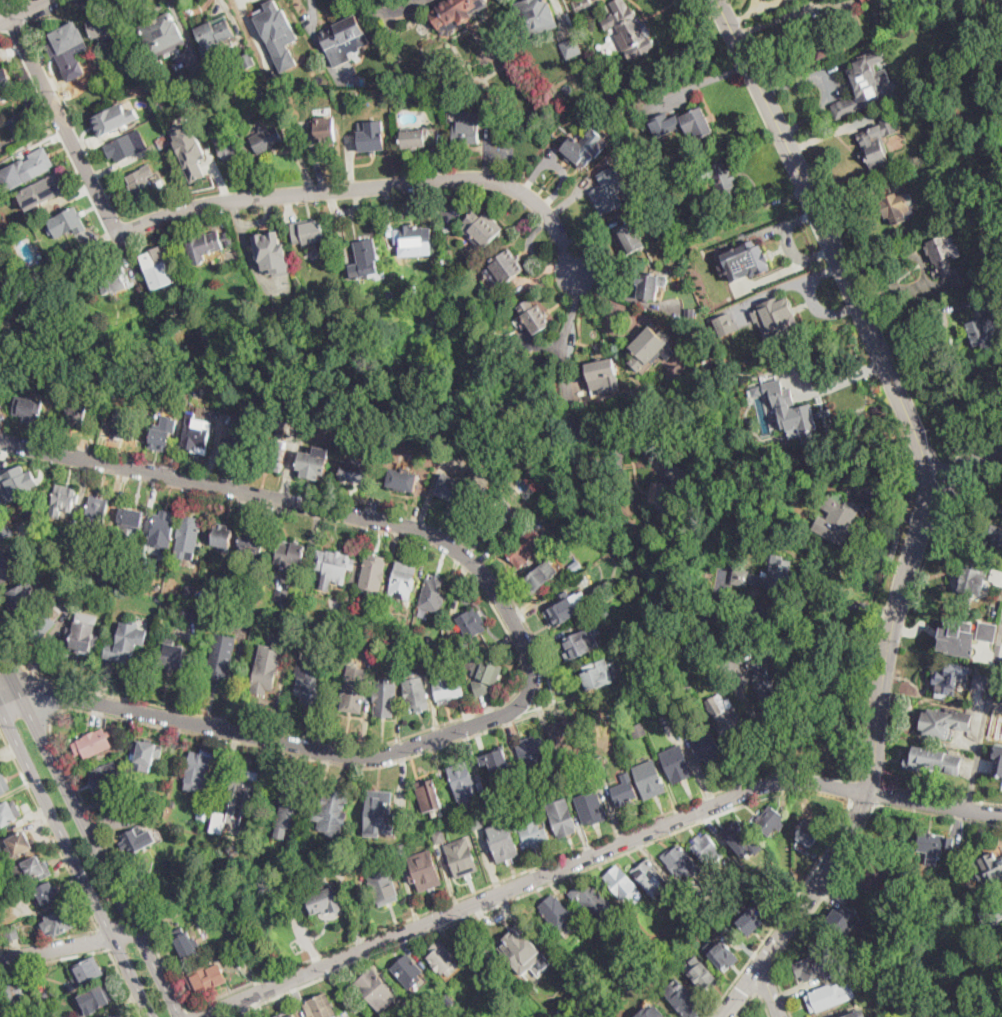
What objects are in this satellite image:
building: (867, 2)
building: (586, 5)
building: (456, 10)
road: (31, 12)
building: (536, 16)
building: (105, 25)
building: (628, 31)
building: (825, 31)
building: (278, 32)
building: (164, 34)
building: (215, 36)
building: (343, 39)
building: (65, 41)
building: (572, 47)
building: (882, 49)
building: (977, 55)
building: (246, 58)
building: (199, 72)
building: (254, 72)
building: (73, 73)
building: (937, 78)
building: (851, 83)
building: (865, 83)
building: (390, 84)
building: (6, 85)
building: (263, 90)
building: (413, 92)
building: (450, 93)
building: (355, 94)
building: (384, 95)
building: (607, 106)
building: (222, 110)
road: (58, 116)
building: (17, 121)
building: (112, 121)
building: (689, 123)
building: (467, 128)
building: (325, 130)
building: (969, 131)
building: (957, 134)
building: (266, 137)
building: (372, 138)
building: (415, 138)
building: (164, 141)
building: (877, 142)
building: (126, 146)
building: (227, 146)
building: (578, 148)
building: (189, 149)
building: (33, 166)
building: (719, 181)
building: (145, 183)
road: (371, 187)
building: (610, 189)
building: (41, 192)
building: (652, 204)
building: (898, 207)
building: (64, 224)
building: (482, 227)
building: (310, 231)
building: (416, 236)
building: (630, 236)
road: (831, 245)
building: (205, 246)
building: (272, 251)
building: (52, 259)
building: (366, 259)
building: (745, 259)
building: (947, 260)
building: (155, 261)
road: (58, 262)
building: (504, 268)
building: (444, 271)
building: (113, 279)
building: (646, 286)
road: (925, 310)
building: (690, 312)
building: (534, 315)
building: (778, 320)
building: (725, 323)
building: (980, 328)
building: (651, 349)
building: (734, 359)
building: (602, 374)
building: (0, 387)
building: (200, 392)
building: (1, 400)
building: (182, 402)
building: (28, 408)
road: (572, 408)
building: (77, 413)
building: (795, 416)
building: (244, 423)
building: (126, 427)
building: (241, 431)
building: (197, 433)
building: (160, 439)
building: (289, 442)
building: (271, 455)
building: (315, 462)
road: (963, 463)
building: (356, 470)
building: (402, 480)
building: (17, 482)
building: (459, 491)
building: (666, 500)
building: (62, 501)
building: (34, 511)
building: (97, 514)
building: (130, 522)
building: (838, 522)
building: (494, 523)
building: (75, 526)
building: (162, 530)
building: (5, 532)
building: (997, 535)
building: (221, 537)
building: (188, 538)
building: (251, 543)
building: (0, 547)
building: (525, 548)
building: (291, 554)
building: (993, 554)
building: (576, 565)
building: (12, 566)
building: (337, 568)
building: (108, 574)
building: (374, 575)
building: (540, 575)
building: (775, 577)
building: (52, 580)
building: (403, 580)
building: (254, 582)
building: (972, 582)
building: (188, 591)
building: (216, 593)
building: (434, 593)
building: (106, 594)
building: (282, 596)
building: (21, 599)
building: (118, 599)
building: (747, 600)
building: (248, 602)
road: (827, 605)
building: (192, 611)
building: (562, 612)
building: (215, 613)
building: (224, 613)
building: (423, 613)
building: (602, 614)
building: (341, 623)
building: (41, 627)
building: (467, 627)
building: (985, 630)
building: (82, 633)
building: (400, 636)
building: (446, 641)
building: (950, 641)
building: (127, 642)
building: (579, 644)
building: (370, 650)
road: (530, 650)
building: (173, 655)
road: (14, 656)
building: (983, 657)
building: (222, 660)
building: (426, 667)
building: (266, 670)
building: (484, 675)
building: (598, 675)
building: (952, 678)
building: (309, 679)
building: (766, 681)
building: (980, 681)
building: (446, 684)
building: (416, 692)
building: (354, 694)
road: (40, 697)
building: (385, 698)
building: (666, 720)
building: (730, 721)
road: (984, 721)
road: (143, 722)
building: (945, 722)
building: (638, 730)
building: (565, 731)
road: (766, 734)
road: (872, 742)
building: (92, 743)
building: (707, 747)
building: (534, 753)
building: (146, 754)
building: (934, 761)
building: (998, 761)
building: (498, 762)
building: (677, 764)
building: (201, 769)
building: (105, 779)
building: (650, 779)
building: (463, 781)
building: (4, 783)
building: (525, 785)
building: (246, 788)
building: (481, 788)
building: (625, 790)
building: (291, 796)
building: (429, 796)
road: (946, 796)
building: (336, 801)
building: (485, 801)
road: (864, 802)
building: (173, 805)
building: (378, 806)
building: (592, 808)
building: (9, 813)
building: (206, 813)
building: (287, 815)
road: (938, 815)
building: (562, 817)
building: (224, 819)
building: (770, 821)
building: (477, 822)
building: (399, 828)
building: (531, 829)
building: (809, 833)
road: (90, 834)
building: (739, 836)
building: (439, 837)
building: (135, 839)
building: (503, 841)
building: (312, 842)
building: (21, 845)
building: (931, 846)
building: (400, 850)
building: (707, 850)
road: (594, 854)
building: (462, 857)
building: (679, 860)
road: (75, 862)
building: (364, 863)
building: (989, 866)
building: (36, 868)
building: (425, 871)
building: (875, 873)
road: (71, 874)
building: (650, 877)
building: (621, 882)
building: (383, 886)
building: (11, 893)
building: (47, 895)
road: (466, 896)
building: (590, 896)
building: (324, 900)
building: (1001, 906)
road: (815, 910)
road: (786, 912)
road: (482, 913)
building: (558, 913)
building: (847, 919)
building: (747, 920)
building: (991, 920)
building: (58, 923)
building: (205, 924)
building: (244, 932)
building: (12, 933)
road: (103, 938)
building: (187, 945)
road: (68, 947)
building: (473, 947)
building: (524, 950)
building: (721, 953)
road: (53, 957)
building: (240, 960)
building: (444, 960)
road: (764, 960)
building: (849, 962)
building: (814, 966)
building: (87, 971)
building: (408, 971)
building: (703, 975)
building: (853, 977)
building: (206, 978)
road: (124, 982)
road: (766, 982)
road: (747, 985)
building: (376, 990)
road: (740, 990)
road: (769, 990)
road: (756, 995)
building: (829, 997)
building: (12, 998)
building: (45, 998)
building: (96, 999)
building: (449, 1000)
building: (687, 1001)
building: (320, 1007)
building: (407, 1008)
building: (651, 1012)
road: (189, 1013)
building: (287, 1014)
building: (855, 1014)
building: (114, 1016)
building: (120, 1016)

